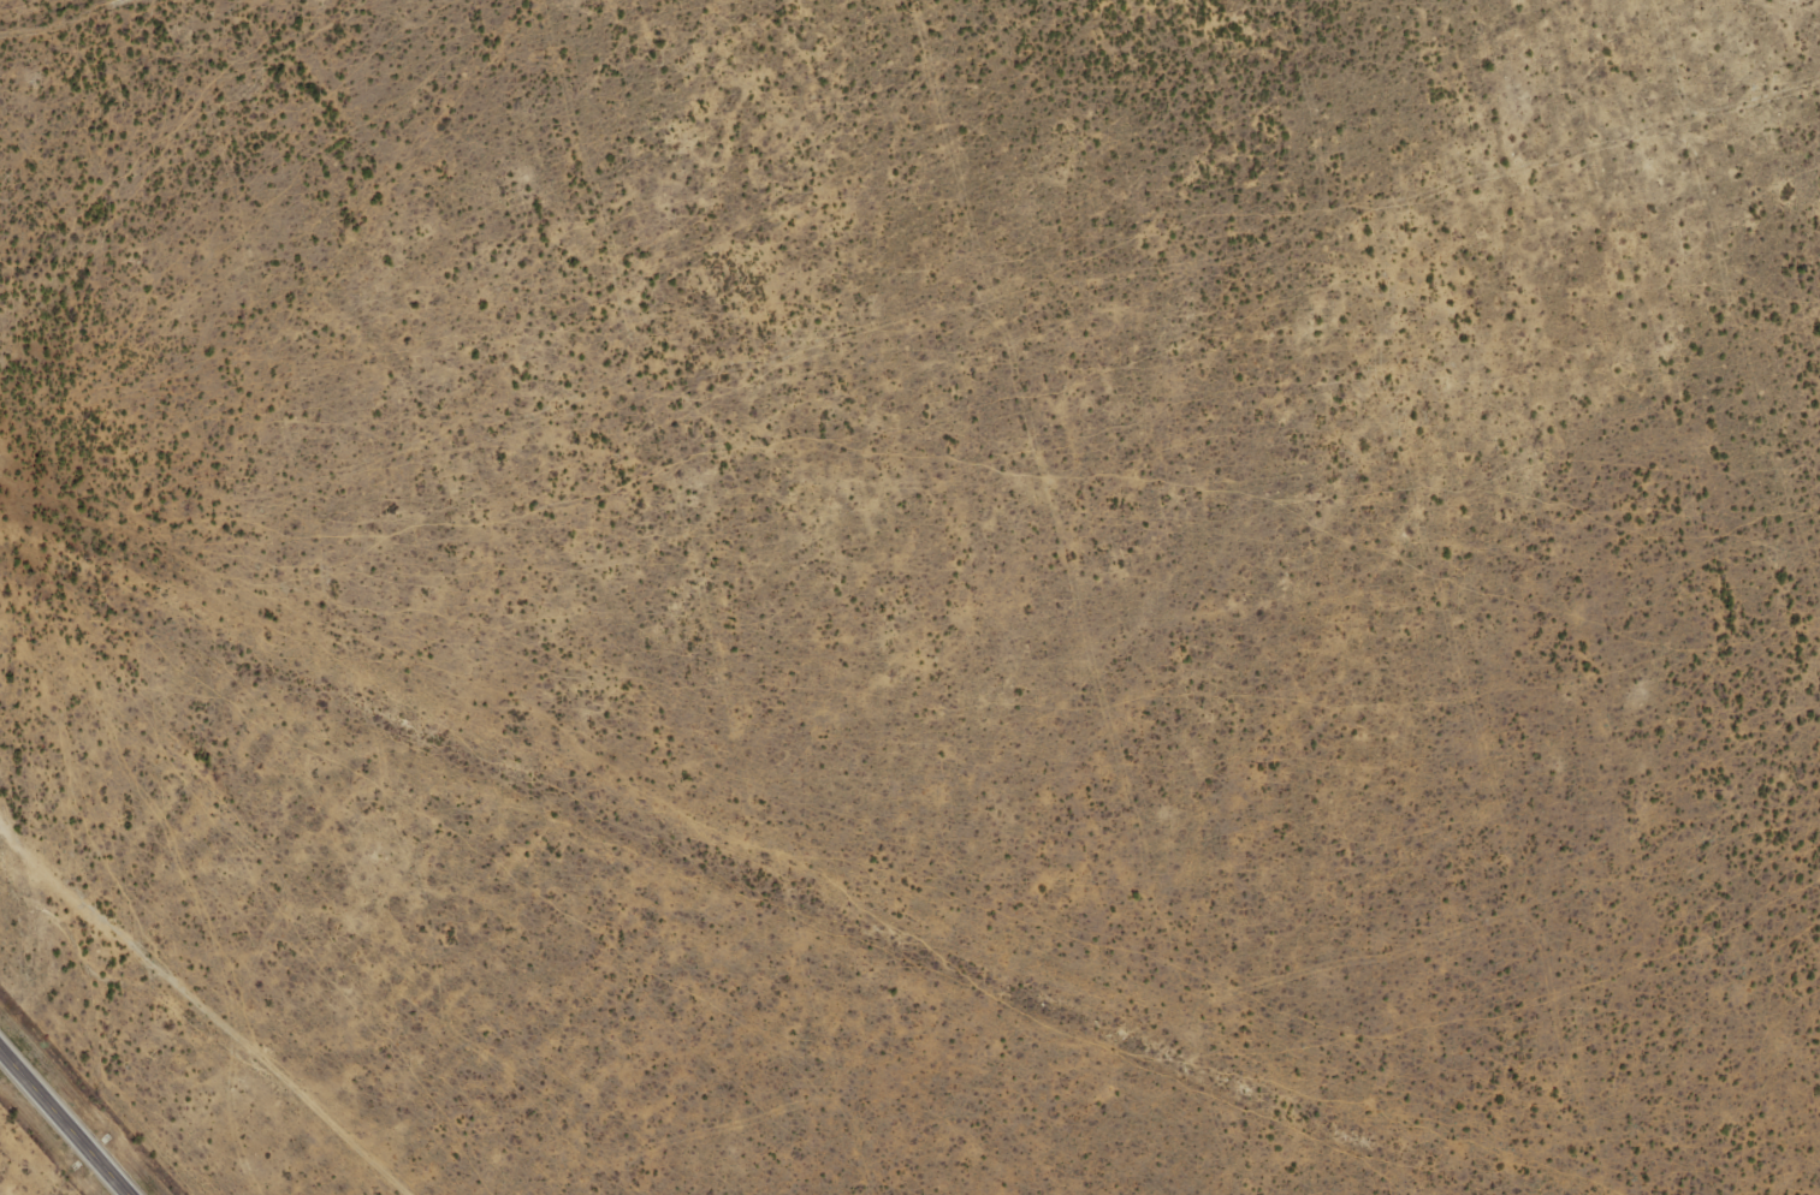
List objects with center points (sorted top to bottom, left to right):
road: (63, 1124)

